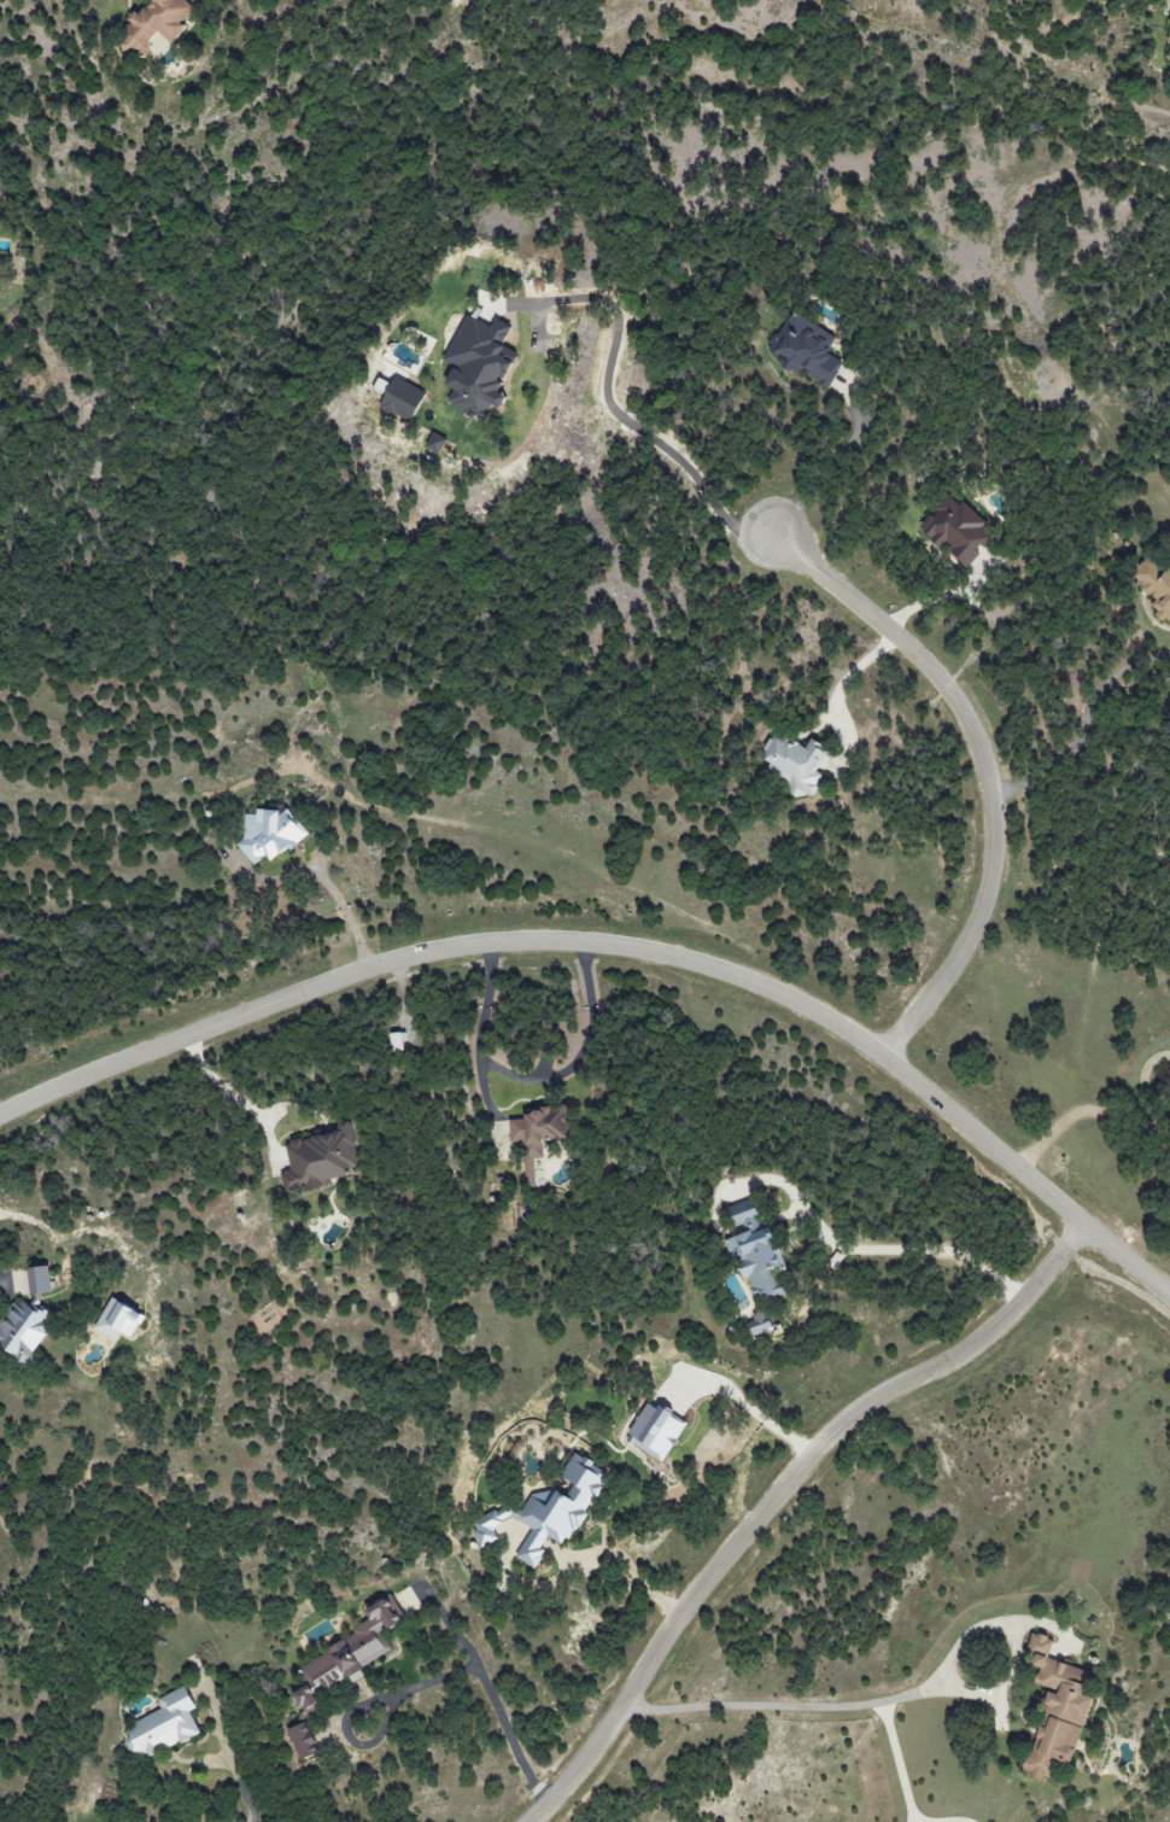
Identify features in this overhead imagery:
building: (154, 25)
building: (1168, 36)
building: (1169, 57)
building: (1, 218)
building: (805, 350)
building: (478, 366)
building: (400, 398)
road: (633, 419)
building: (435, 443)
road: (830, 463)
building: (957, 529)
building: (1154, 585)
road: (942, 594)
road: (846, 682)
road: (1083, 726)
building: (794, 763)
road: (984, 771)
building: (270, 834)
road: (346, 915)
road: (625, 945)
building: (397, 1041)
road: (531, 1080)
road: (216, 1086)
road: (1100, 1113)
building: (537, 1135)
building: (320, 1158)
road: (891, 1245)
building: (755, 1249)
building: (39, 1279)
building: (118, 1319)
building: (760, 1322)
building: (24, 1327)
building: (656, 1431)
road: (777, 1493)
building: (549, 1509)
road: (619, 1563)
building: (349, 1653)
road: (490, 1697)
road: (896, 1697)
building: (1055, 1709)
building: (164, 1724)
building: (303, 1740)
road: (897, 1762)
road: (244, 1791)
road: (938, 1821)

